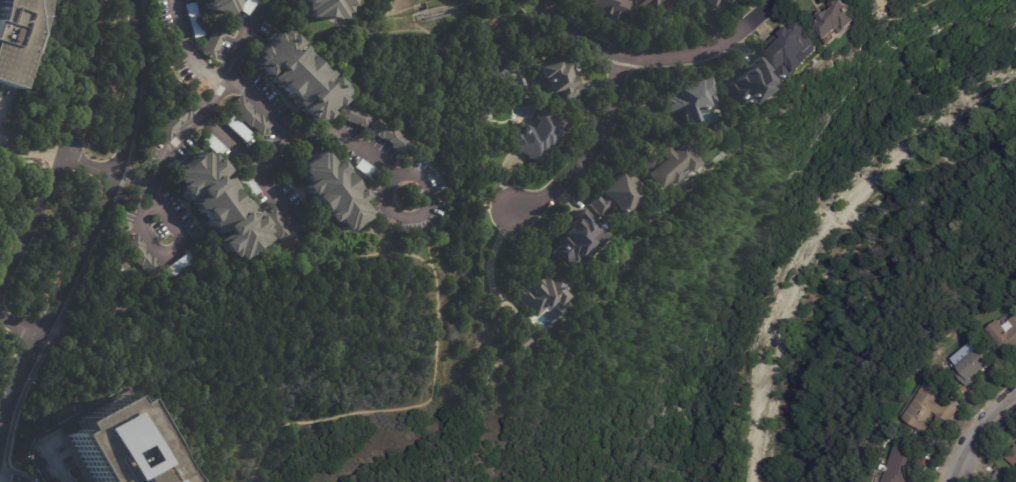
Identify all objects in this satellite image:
building: (873, 0)
building: (879, 0)
building: (729, 1)
building: (283, 2)
building: (716, 2)
building: (219, 6)
building: (249, 6)
building: (655, 6)
building: (889, 6)
building: (325, 8)
building: (610, 8)
building: (846, 19)
building: (194, 20)
building: (16, 38)
building: (213, 43)
building: (796, 50)
road: (661, 55)
building: (299, 76)
road: (219, 77)
building: (561, 80)
building: (748, 82)
building: (689, 100)
building: (250, 116)
building: (355, 117)
building: (177, 120)
building: (237, 128)
building: (391, 137)
building: (541, 139)
road: (34, 143)
building: (214, 145)
road: (591, 149)
road: (69, 153)
building: (290, 163)
building: (667, 164)
road: (94, 167)
building: (368, 170)
road: (262, 171)
road: (404, 172)
road: (929, 179)
road: (134, 181)
building: (250, 186)
building: (332, 192)
building: (618, 196)
road: (281, 204)
building: (220, 206)
road: (167, 216)
road: (96, 226)
road: (792, 228)
building: (281, 229)
building: (580, 239)
building: (142, 256)
road: (385, 256)
building: (181, 264)
park: (597, 288)
building: (543, 294)
road: (21, 320)
building: (1005, 335)
building: (527, 345)
road: (814, 352)
building: (975, 366)
road: (419, 405)
building: (931, 410)
road: (979, 435)
building: (105, 443)
building: (55, 459)
parking lot: (55, 459)
building: (1014, 460)
building: (901, 464)
road: (11, 476)
building: (1004, 477)
park: (8, 479)

